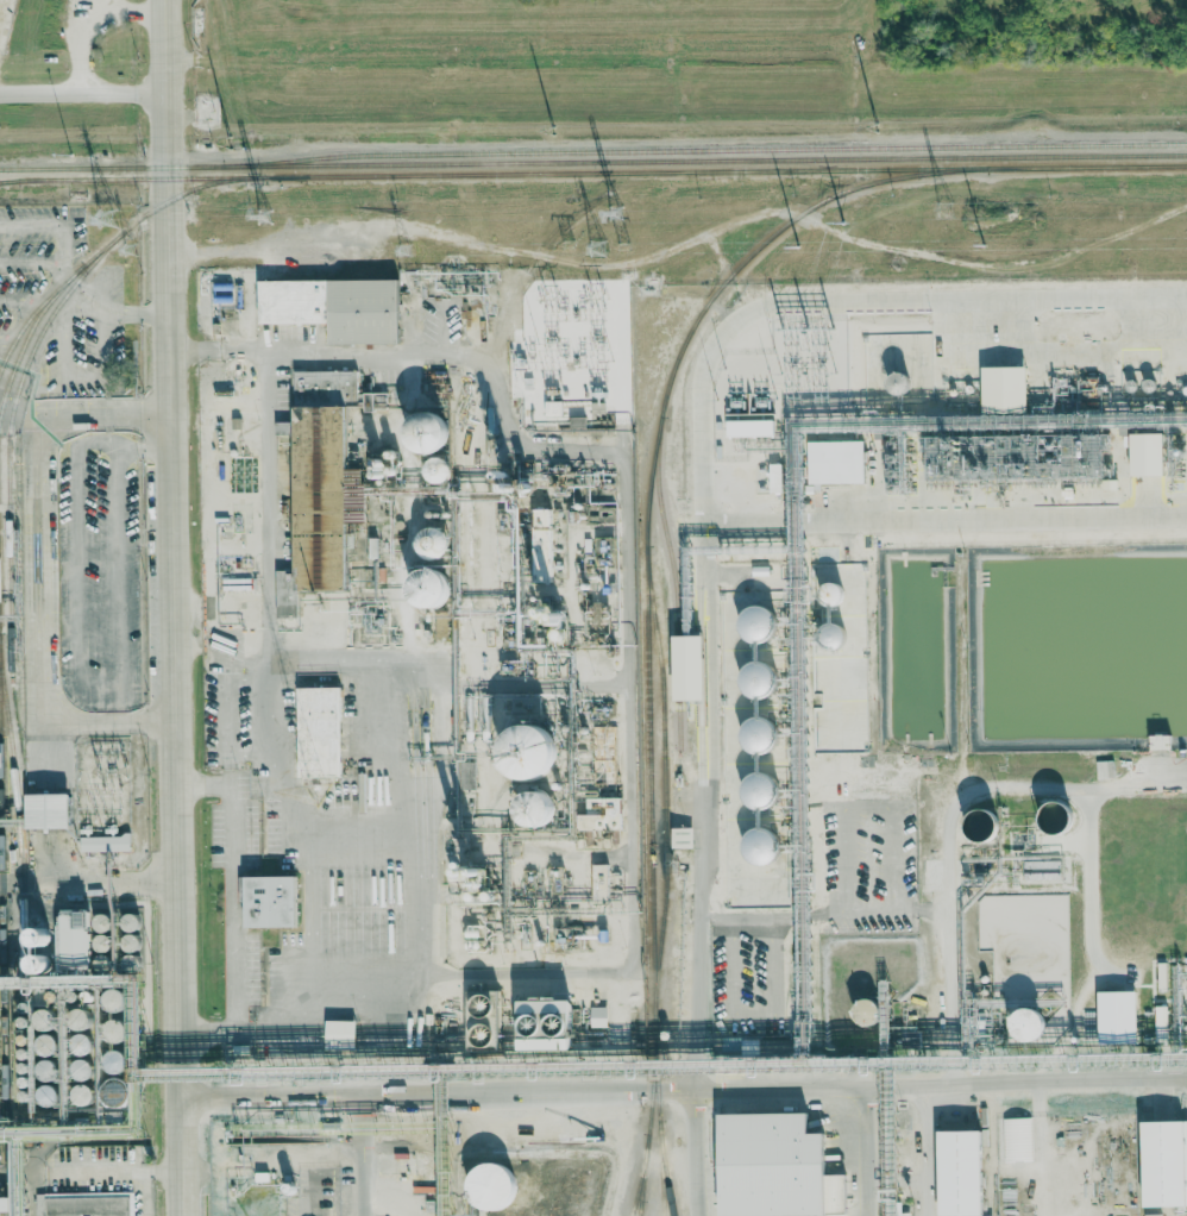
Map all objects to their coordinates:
road: (137, 13)
road: (81, 45)
road: (83, 92)
power tower: (877, 132)
power tower: (552, 134)
power tower: (231, 142)
railway: (704, 149)
railway: (593, 161)
railway: (601, 173)
railway: (8, 181)
railway: (8, 181)
power tower: (946, 209)
power tower: (614, 213)
power tower: (107, 215)
power tower: (263, 217)
power tower: (567, 242)
power tower: (999, 243)
power tower: (812, 245)
power tower: (597, 246)
power tower: (131, 249)
power tower: (406, 249)
railway: (95, 253)
building: (334, 307)
railway: (34, 309)
road: (118, 311)
power substation: (579, 340)
building: (897, 384)
building: (1004, 387)
building: (553, 408)
road: (83, 412)
building: (284, 427)
building: (750, 428)
building: (427, 433)
railway: (8, 438)
building: (1148, 455)
building: (835, 462)
building: (439, 470)
building: (356, 478)
building: (319, 487)
railway: (662, 525)
building: (433, 543)
building: (542, 545)
parking lot: (105, 568)
building: (431, 589)
railway: (646, 591)
building: (833, 594)
road: (170, 608)
building: (756, 623)
road: (51, 628)
building: (834, 635)
railway: (677, 669)
building: (687, 669)
building: (756, 679)
road: (270, 684)
road: (633, 697)
railway: (678, 728)
building: (319, 732)
building: (758, 735)
building: (1160, 742)
building: (529, 754)
building: (1, 760)
road: (395, 766)
building: (1104, 770)
railway: (662, 783)
power substation: (113, 788)
building: (760, 791)
road: (709, 801)
building: (538, 810)
building: (48, 811)
building: (602, 815)
building: (1057, 819)
building: (981, 825)
railway: (19, 833)
road: (359, 834)
building: (683, 838)
building: (105, 844)
building: (761, 847)
building: (467, 877)
road: (230, 880)
building: (599, 883)
building: (270, 903)
road: (796, 914)
building: (128, 923)
building: (101, 924)
building: (76, 939)
building: (101, 945)
building: (39, 954)
road: (771, 965)
road: (814, 980)
road: (731, 983)
building: (112, 1001)
railway: (2, 1004)
building: (867, 1014)
building: (1117, 1015)
building: (1161, 1015)
building: (599, 1016)
building: (44, 1021)
building: (80, 1021)
building: (545, 1021)
building: (486, 1022)
building: (1029, 1027)
building: (114, 1032)
building: (340, 1033)
building: (81, 1045)
building: (45, 1046)
building: (114, 1063)
building: (81, 1070)
building: (45, 1071)
road: (1022, 1080)
road: (586, 1089)
building: (117, 1093)
building: (46, 1096)
building: (82, 1096)
railway: (648, 1129)
building: (1010, 1134)
road: (922, 1149)
road: (360, 1154)
building: (1164, 1161)
building: (775, 1166)
railway: (662, 1167)
road: (120, 1172)
building: (961, 1172)
railway: (642, 1174)
building: (492, 1185)
building: (83, 1204)
railway: (639, 1208)

